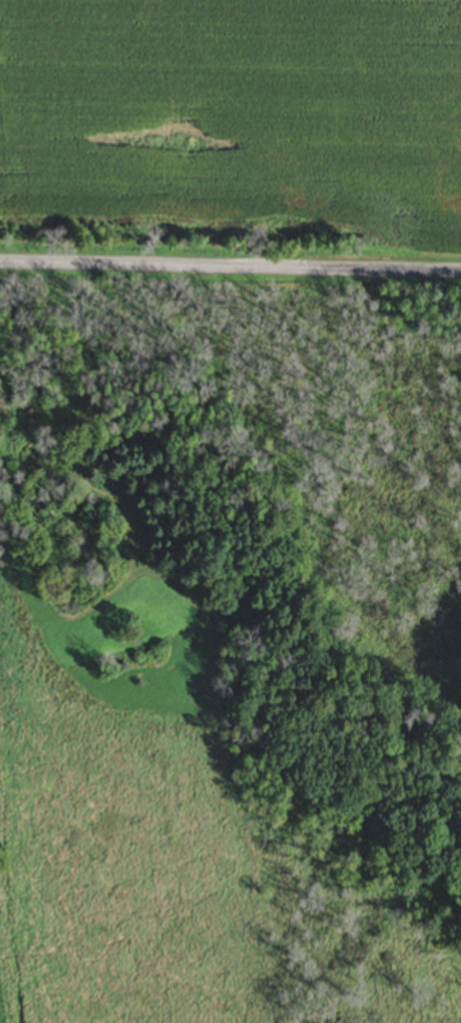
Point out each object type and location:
road: (230, 270)

